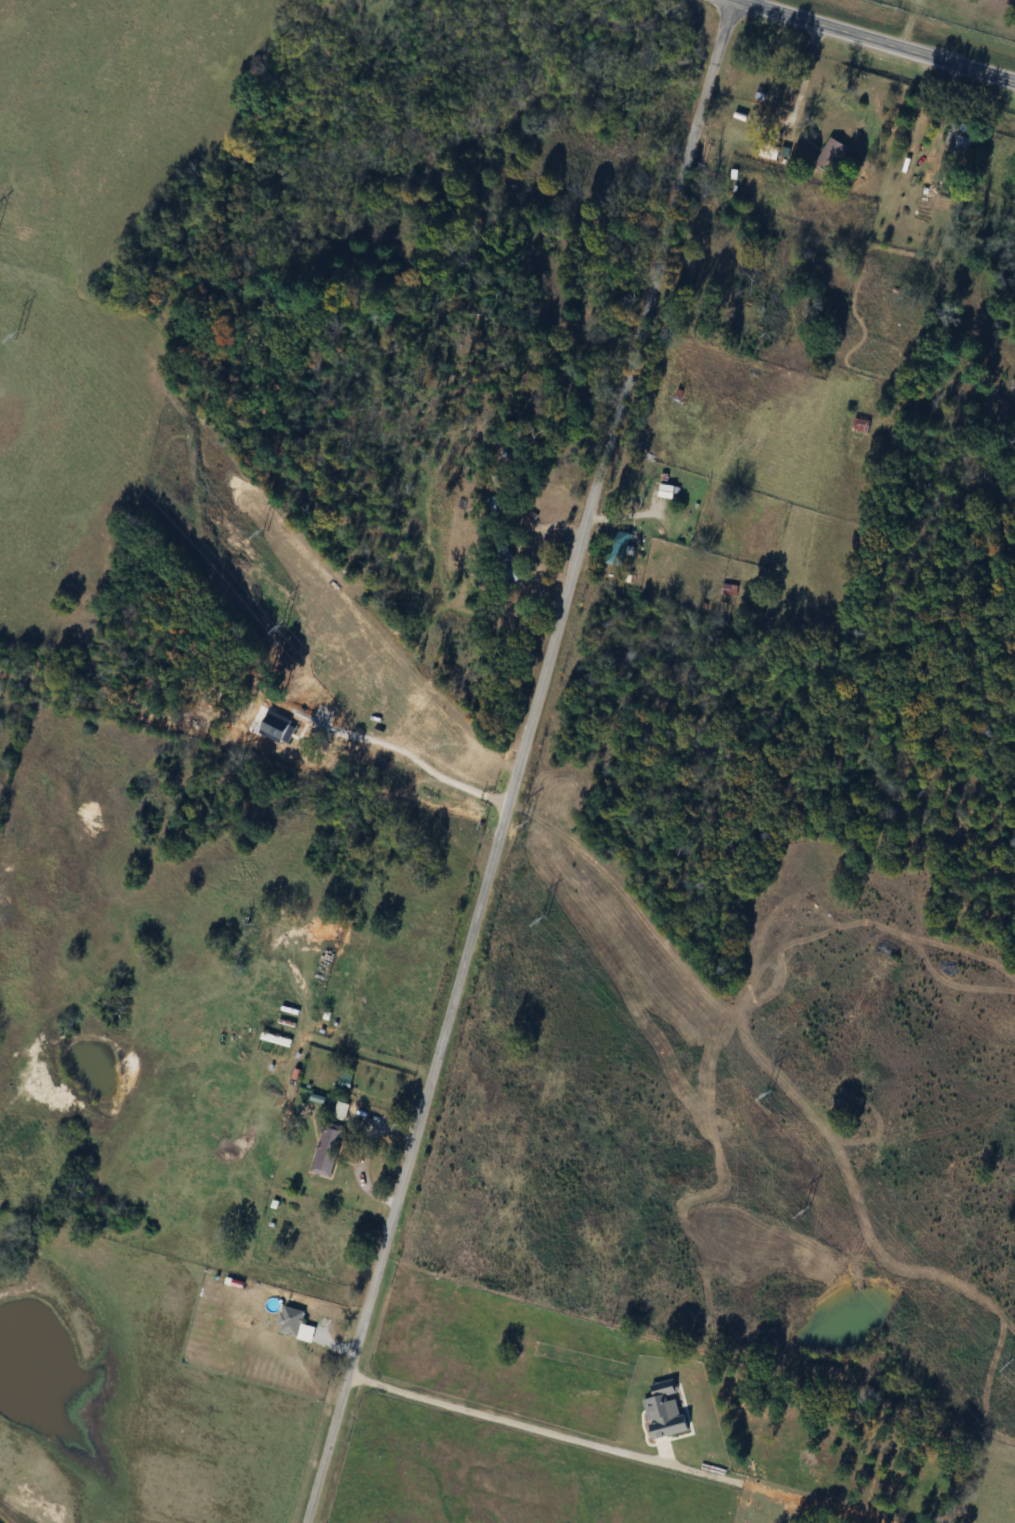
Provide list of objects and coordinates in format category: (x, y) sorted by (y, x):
road: (877, 40)
road: (806, 75)
building: (959, 137)
building: (831, 155)
power tower: (17, 337)
building: (860, 425)
building: (664, 491)
power tower: (263, 533)
building: (619, 545)
building: (508, 565)
building: (727, 589)
power tower: (279, 628)
road: (517, 761)
power tower: (524, 825)
power tower: (539, 920)
power tower: (769, 1097)
building: (328, 1148)
power tower: (802, 1213)
power tower: (1010, 1365)
road: (505, 1417)

